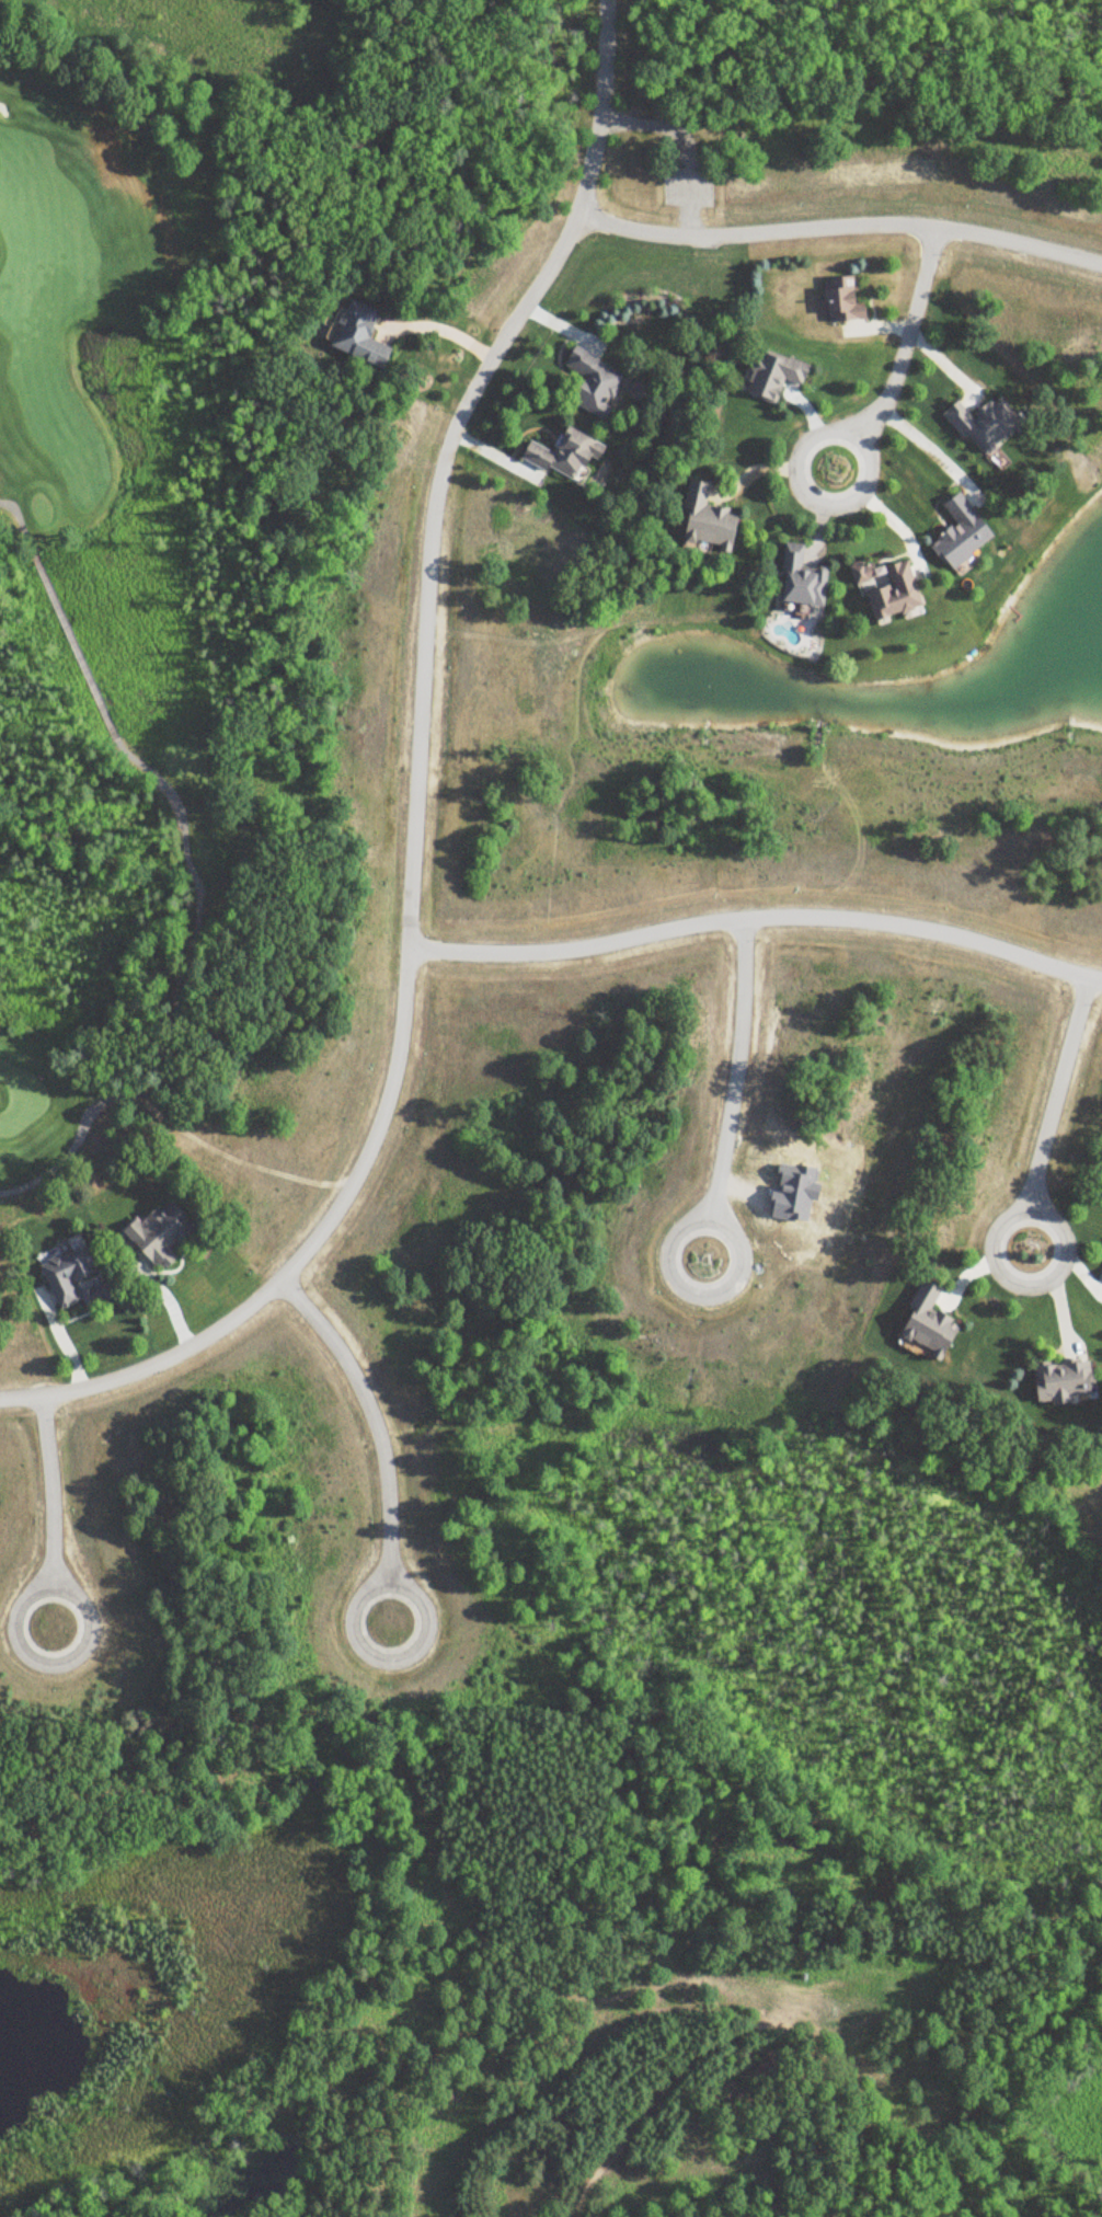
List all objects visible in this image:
road: (840, 225)
building: (846, 298)
building: (644, 299)
building: (359, 333)
building: (773, 375)
building: (596, 383)
building: (988, 424)
road: (866, 445)
building: (567, 456)
building: (710, 520)
building: (965, 531)
park: (135, 564)
building: (804, 579)
building: (894, 590)
road: (416, 792)
road: (185, 862)
road: (756, 917)
park: (22, 1102)
road: (714, 1190)
road: (1030, 1206)
building: (163, 1232)
building: (74, 1273)
building: (931, 1322)
building: (1066, 1379)
road: (389, 1532)
road: (76, 1590)

